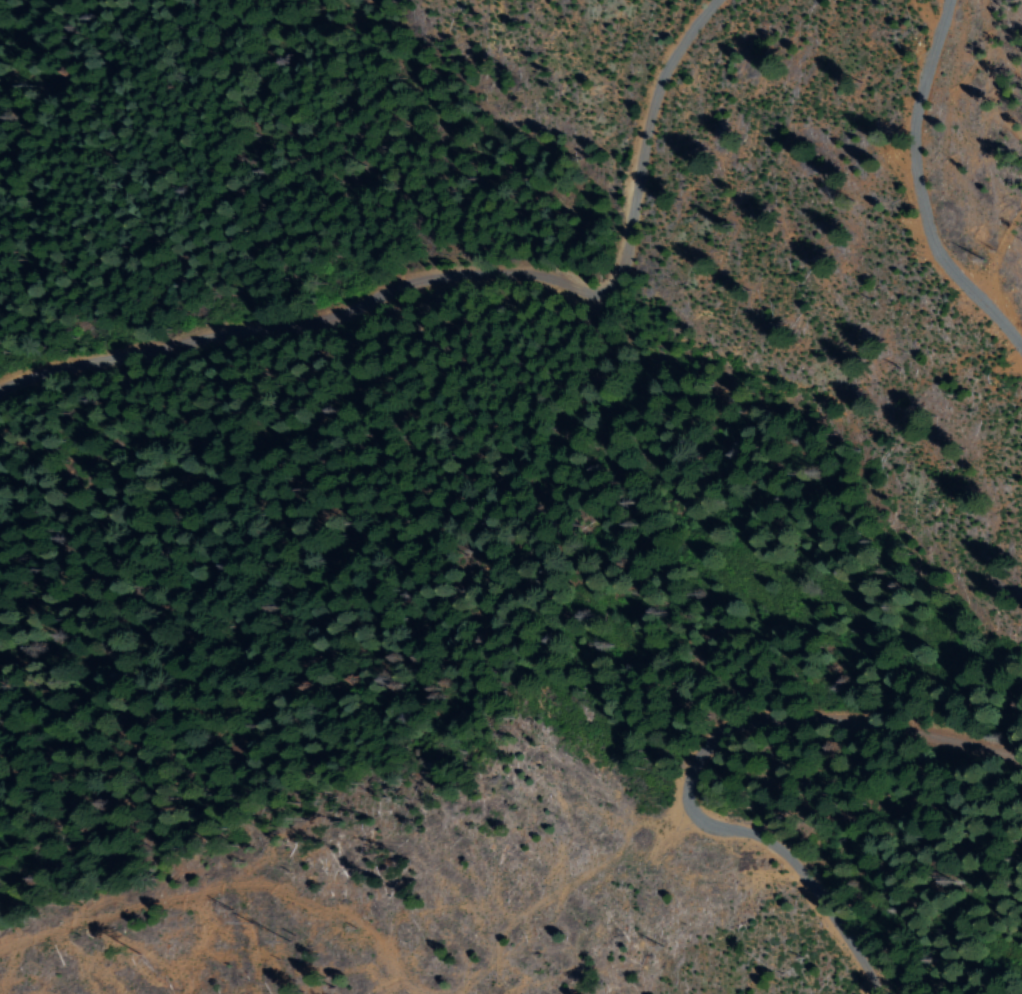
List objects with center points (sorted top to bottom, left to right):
road: (429, 277)

